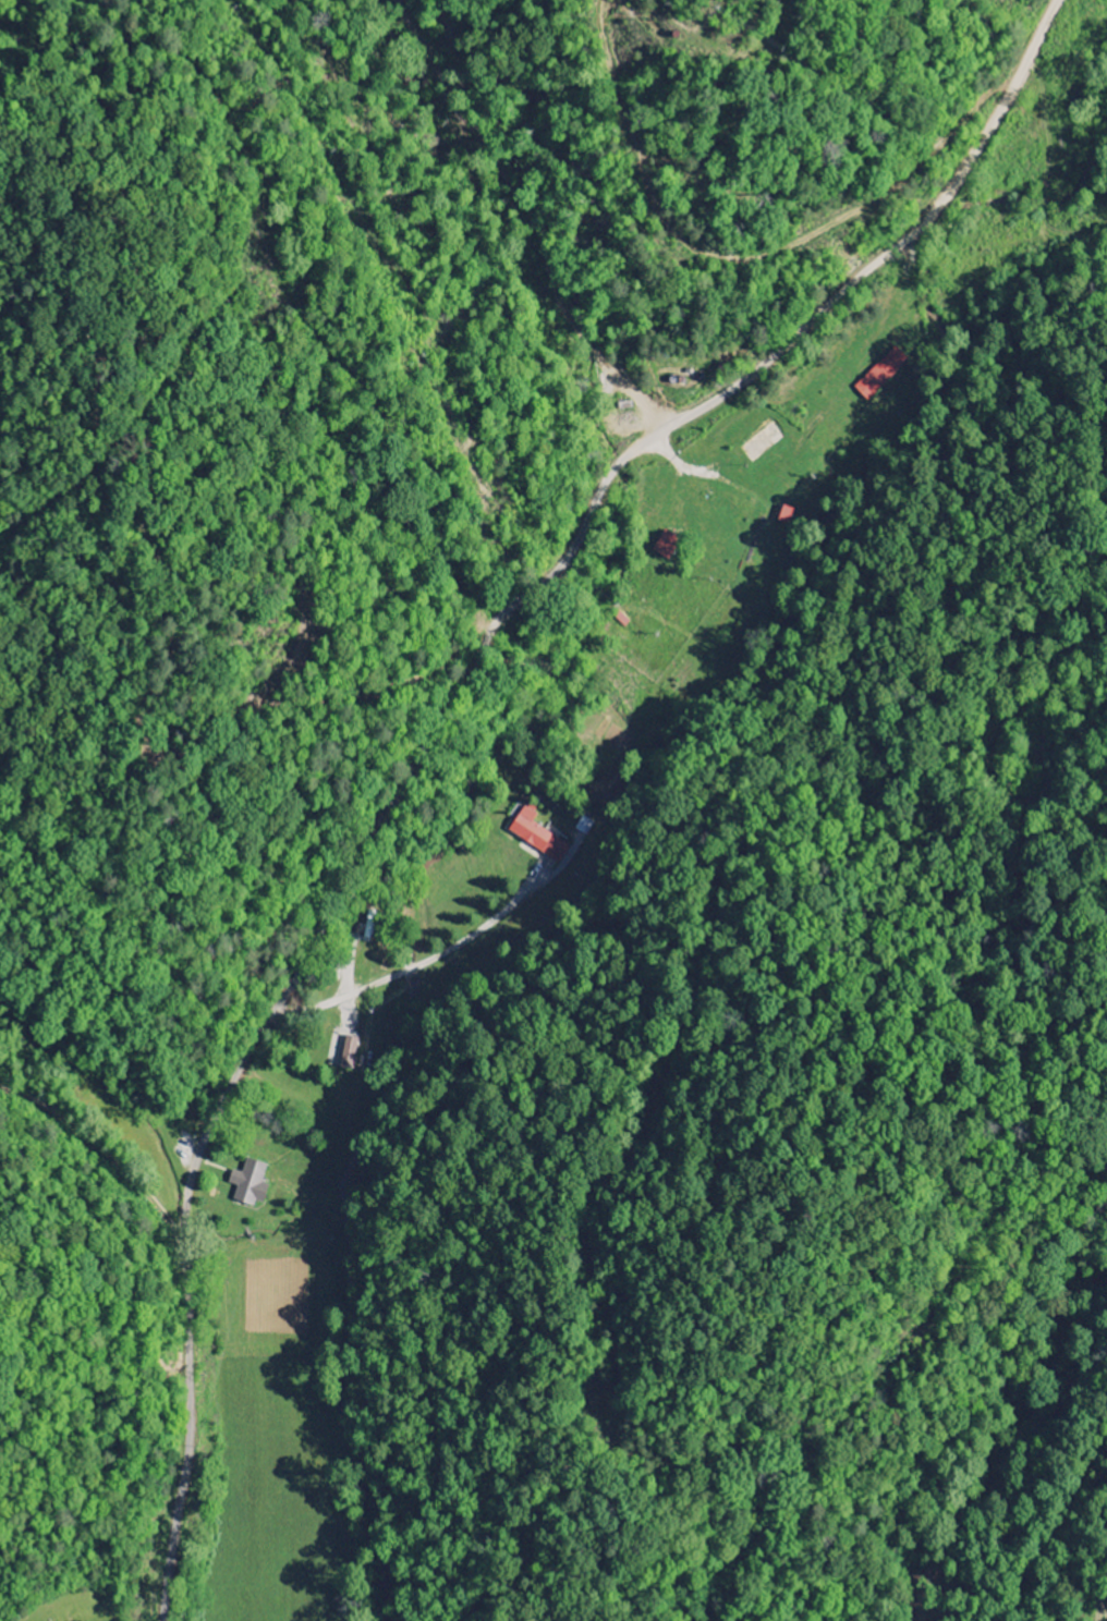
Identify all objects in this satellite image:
road: (494, 227)
building: (880, 373)
building: (784, 514)
building: (665, 544)
road: (440, 721)
building: (536, 834)
building: (348, 1052)
building: (248, 1183)
park: (73, 1605)

